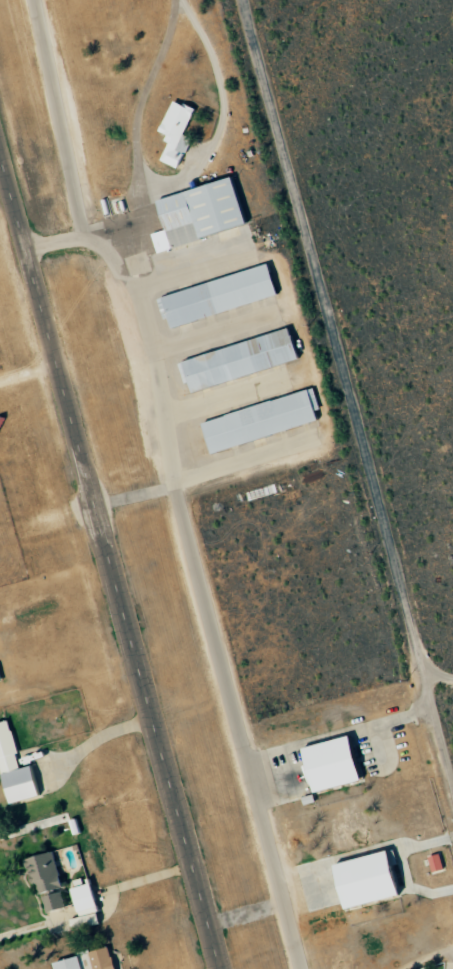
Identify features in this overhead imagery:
building: (176, 133)
building: (200, 214)
building: (218, 296)
building: (240, 360)
road: (348, 395)
building: (262, 421)
airport: (221, 486)
airport runway: (106, 574)
road: (440, 682)
building: (333, 763)
building: (15, 769)
building: (436, 862)
building: (45, 873)
building: (368, 879)
building: (54, 901)
building: (99, 958)
building: (70, 963)

